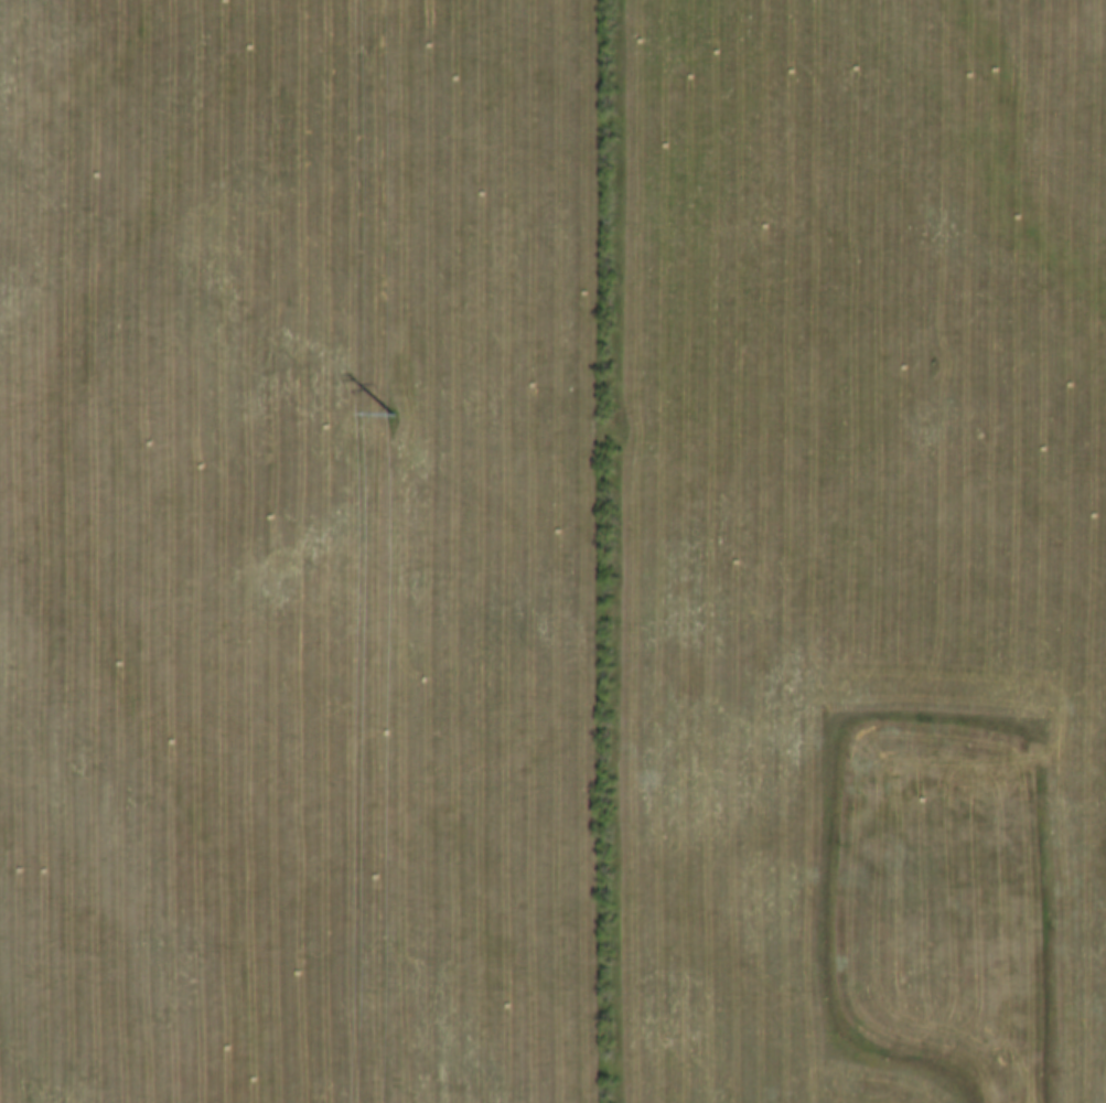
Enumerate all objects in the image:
power tower: (406, 408)

